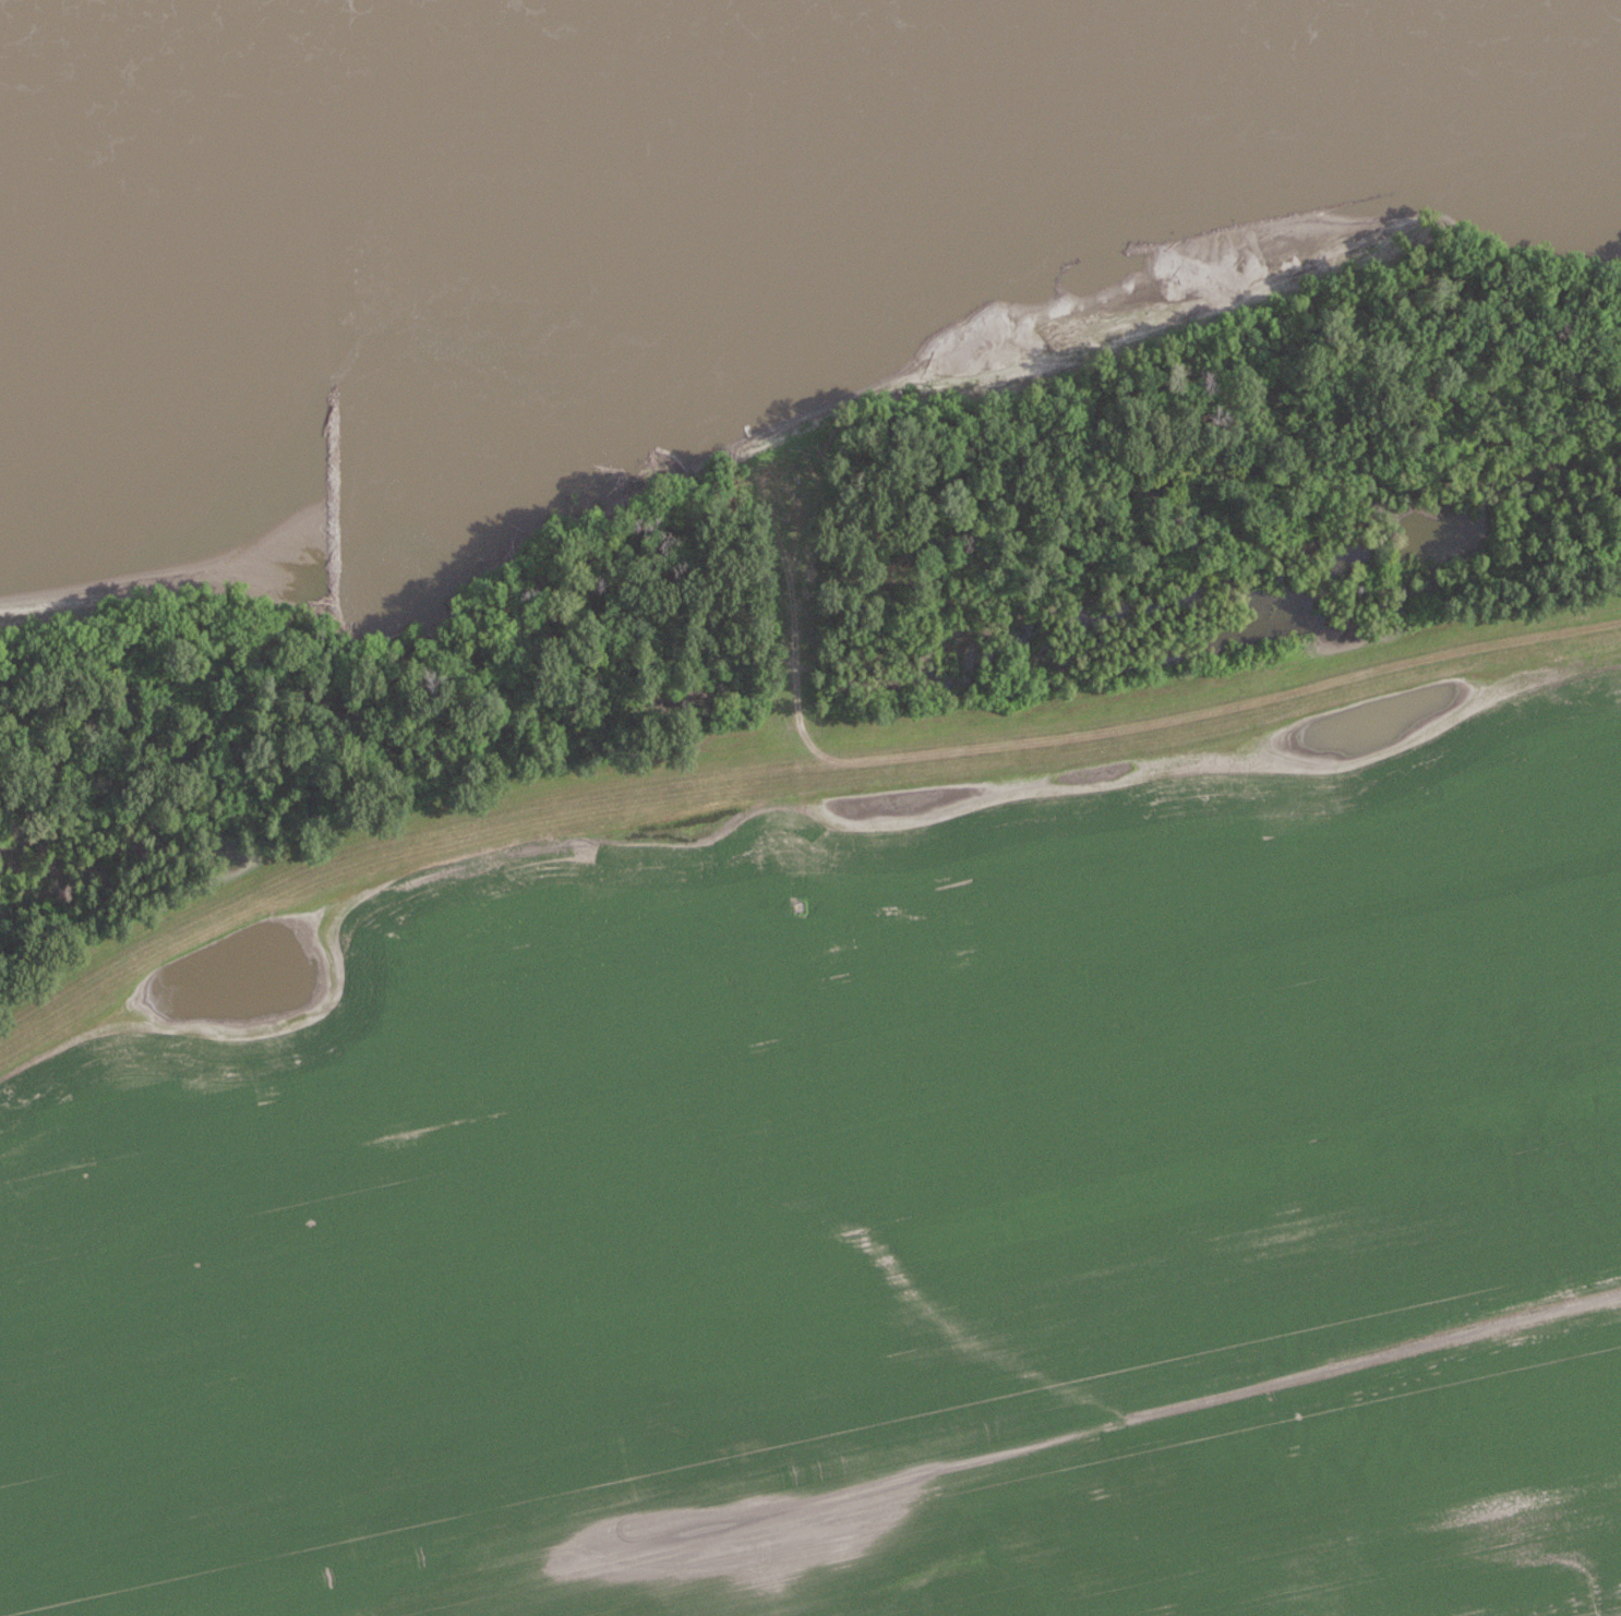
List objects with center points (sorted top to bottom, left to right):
river: (232, 43)
crop: (875, 1222)

